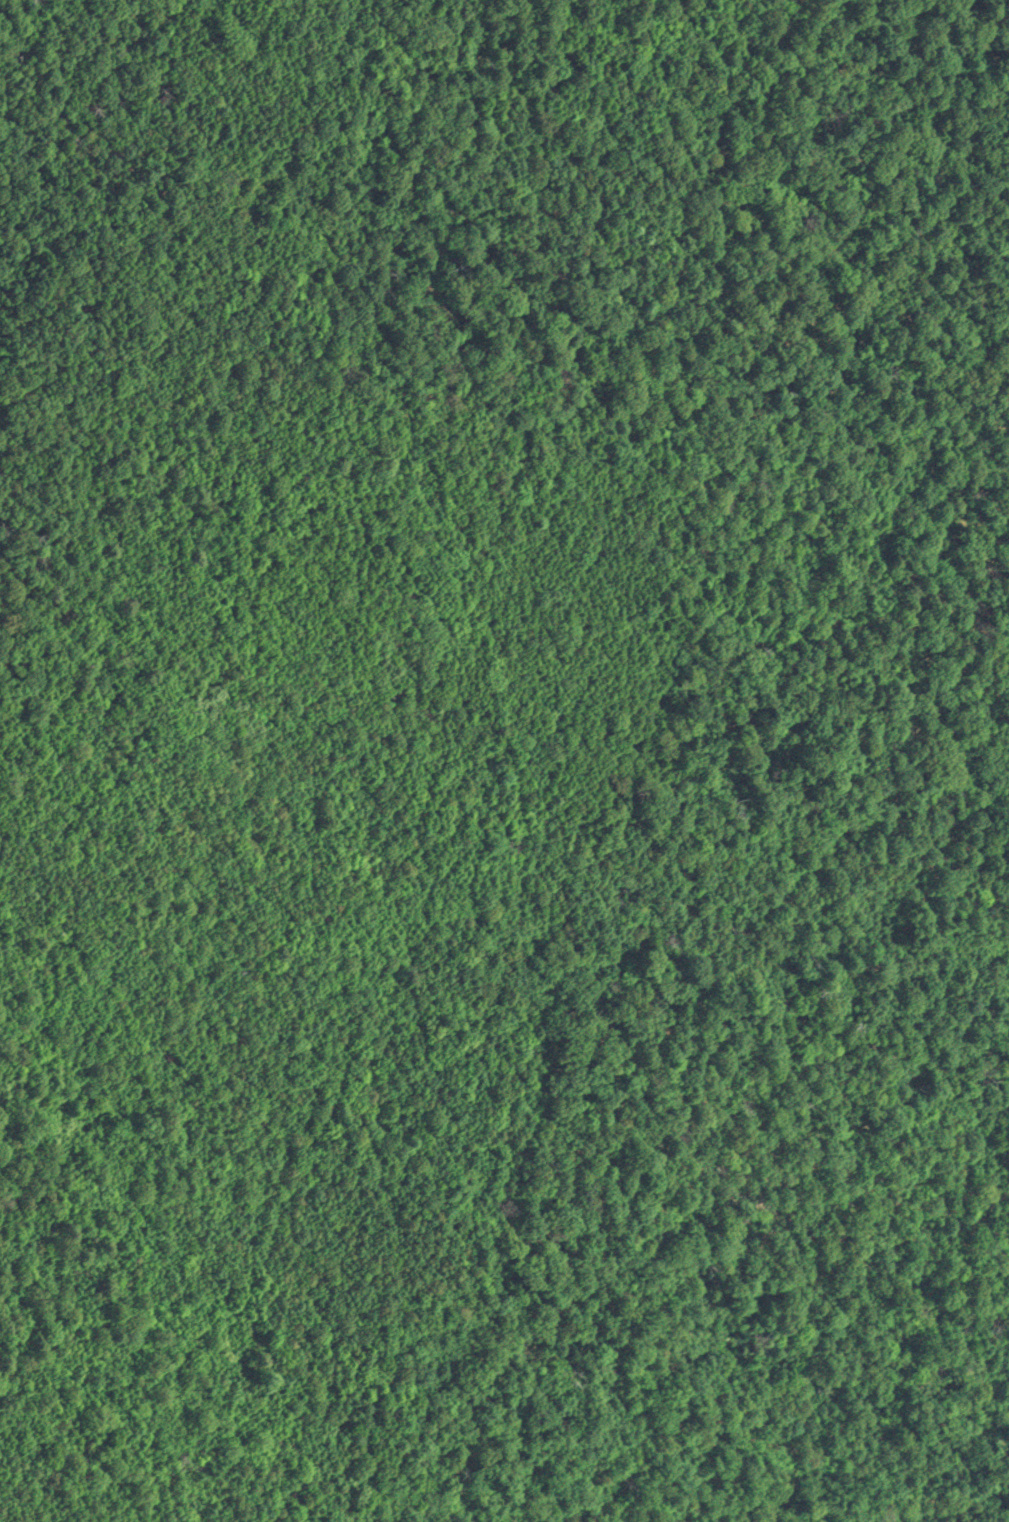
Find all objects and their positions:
road: (6, 19)

